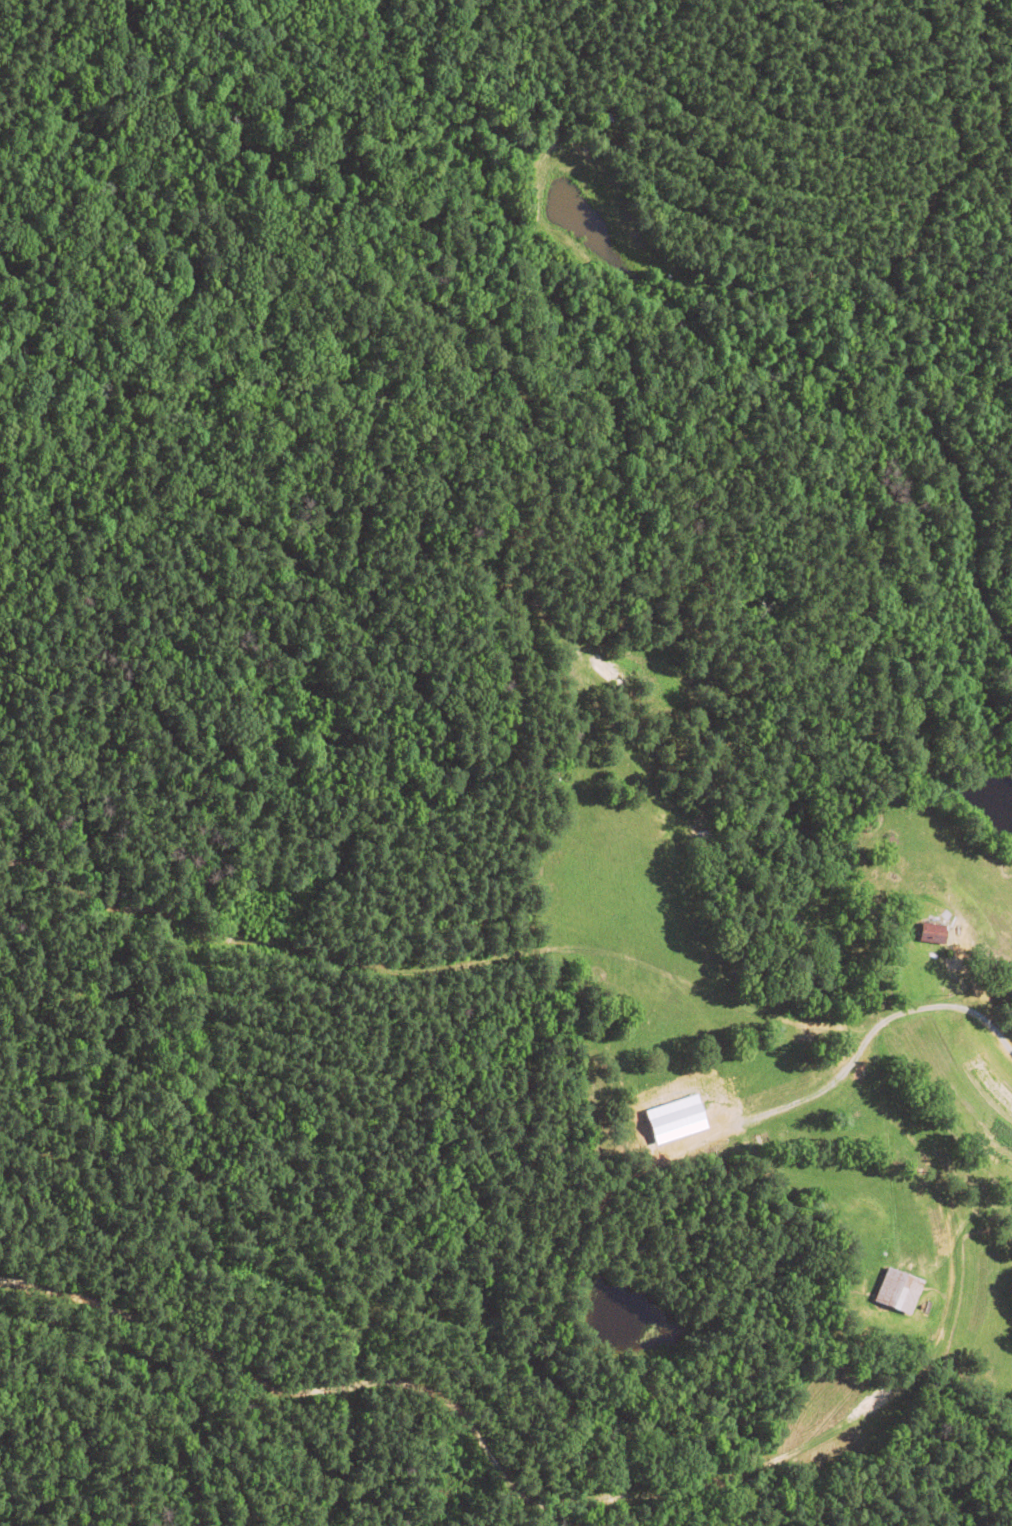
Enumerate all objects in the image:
road: (845, 892)
building: (930, 933)
building: (655, 1112)
building: (896, 1291)

